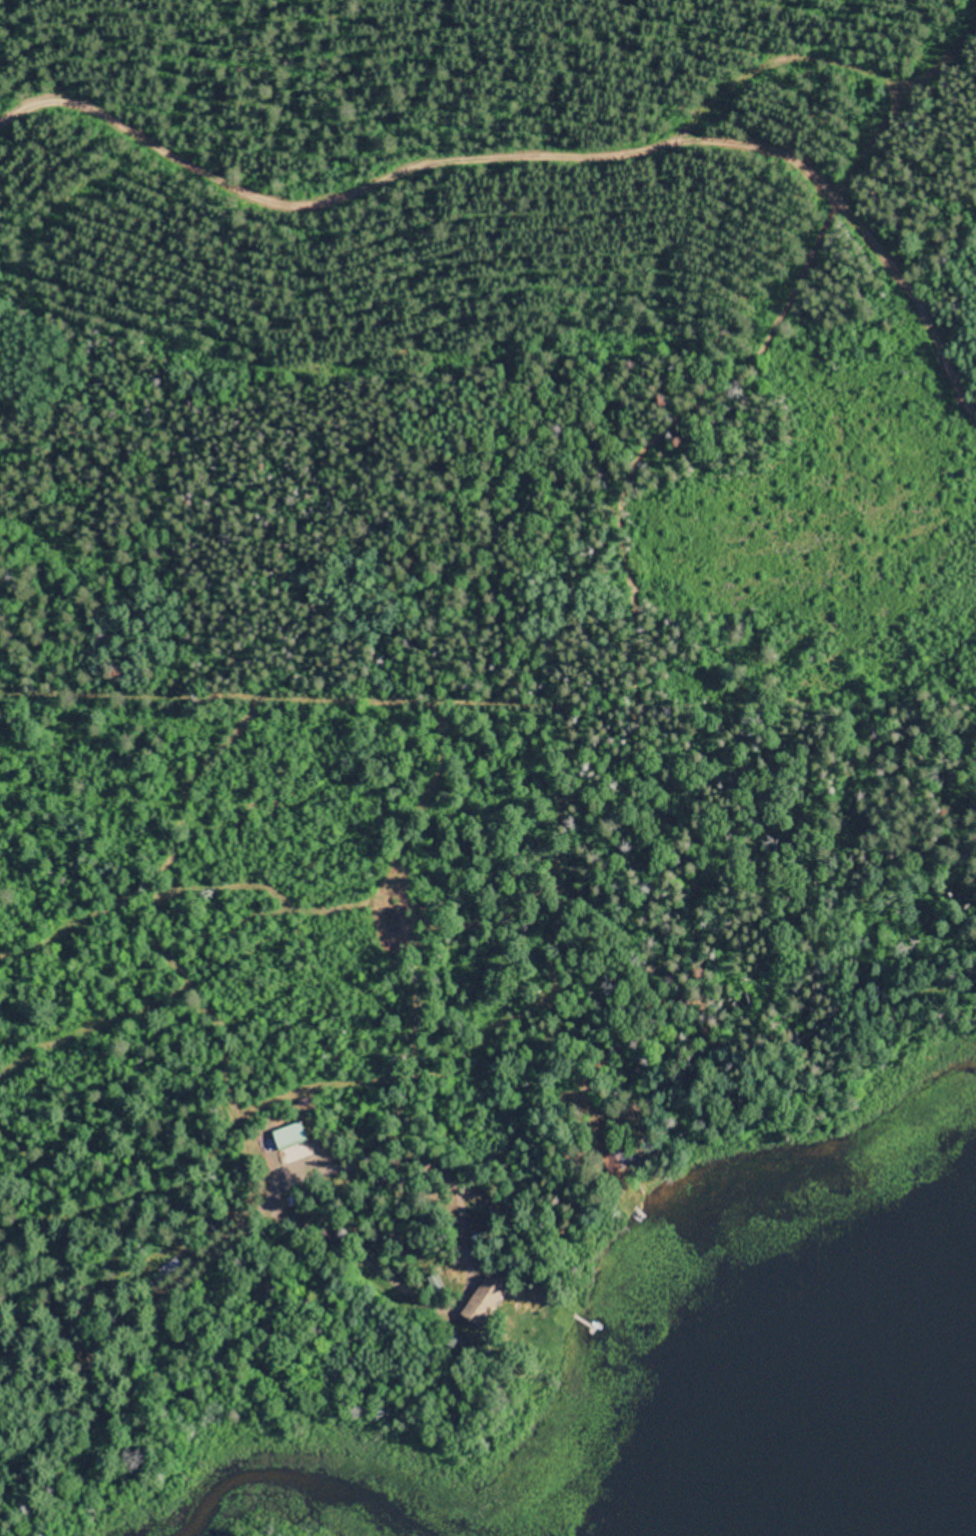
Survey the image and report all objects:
road: (732, 904)
road: (862, 980)
building: (296, 1134)
building: (623, 1158)
building: (490, 1299)

